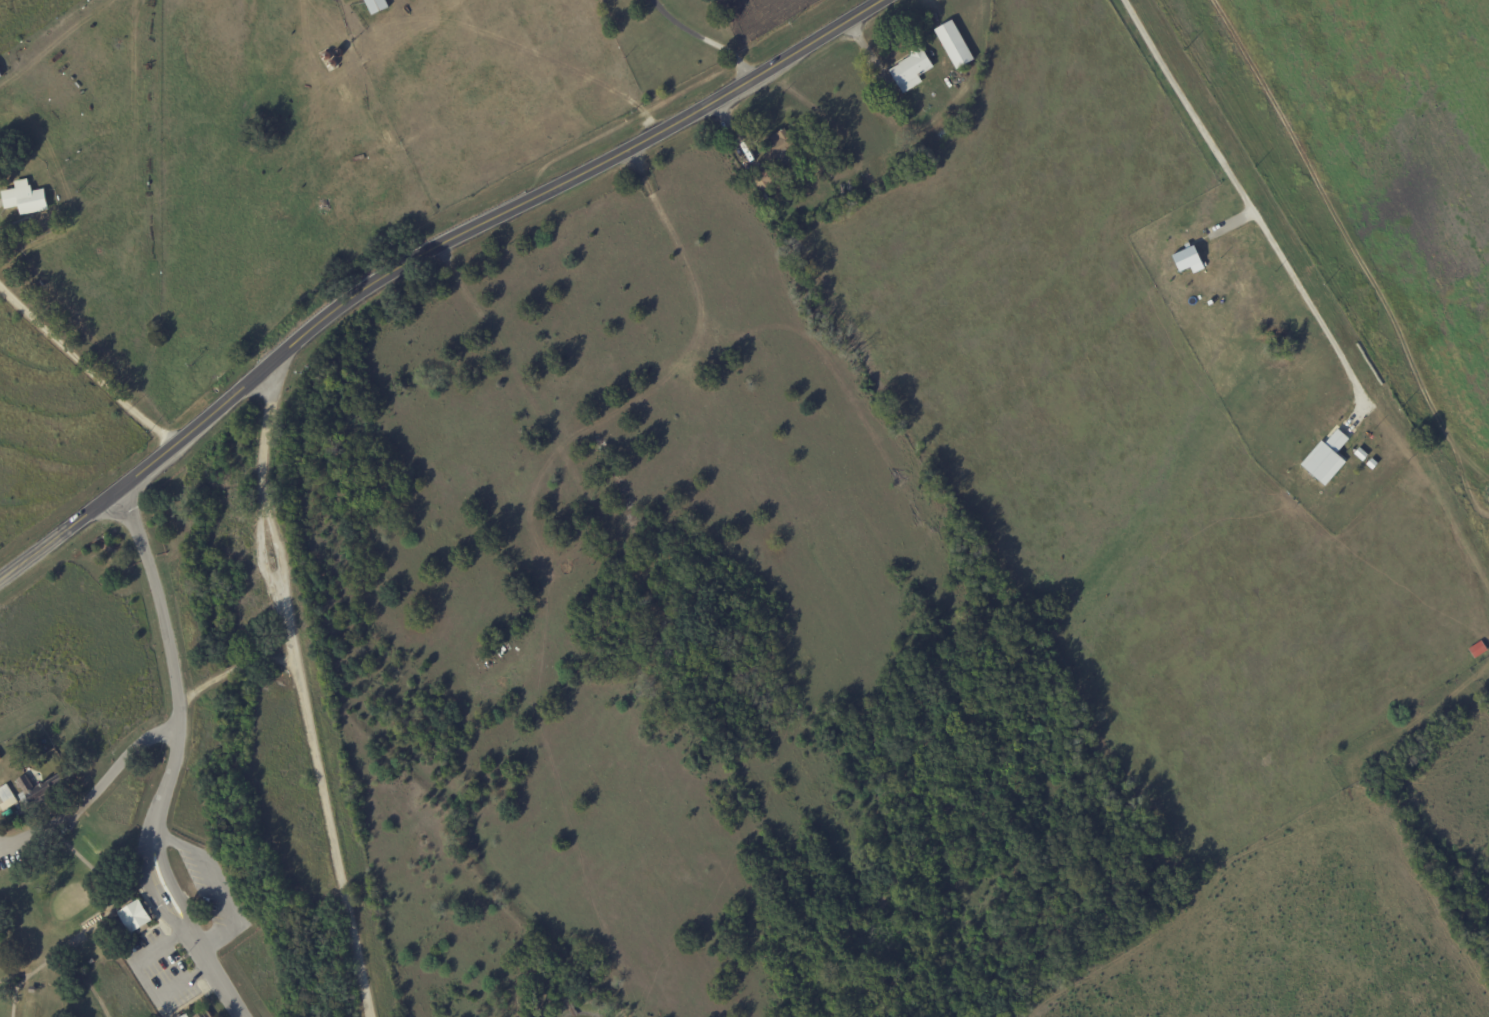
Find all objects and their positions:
building: (374, 5)
road: (712, 35)
building: (952, 43)
building: (909, 69)
building: (2, 72)
road: (893, 105)
building: (789, 157)
road: (1252, 196)
building: (28, 197)
road: (421, 255)
building: (1184, 259)
road: (88, 359)
building: (1358, 453)
building: (1323, 457)
building: (1476, 648)
road: (308, 683)
road: (86, 756)
park: (239, 757)
road: (173, 761)
building: (43, 790)
building: (9, 796)
road: (211, 884)
building: (139, 916)
building: (182, 1015)

